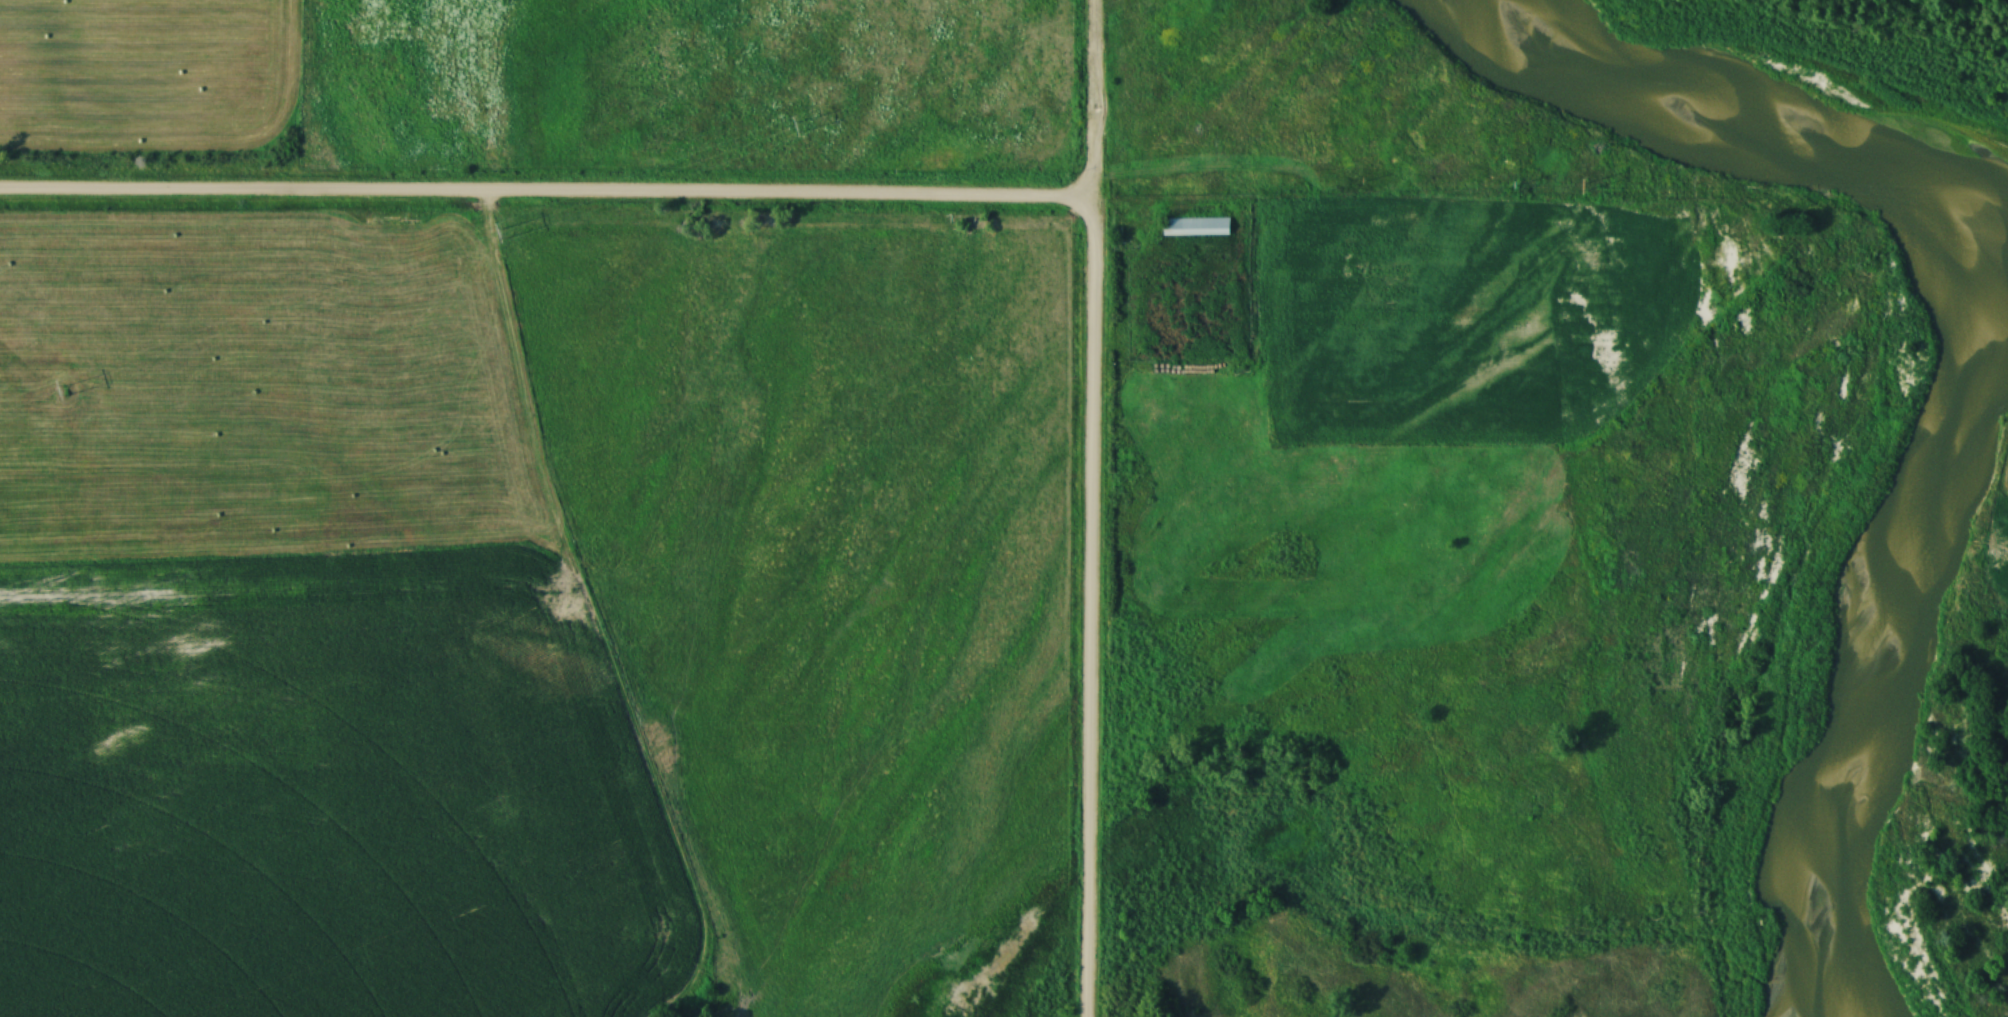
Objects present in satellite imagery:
power tower: (794, 129)
road: (545, 199)
building: (1195, 228)
power tower: (499, 236)
river: (1991, 340)
power tower: (59, 393)
road: (1088, 508)

